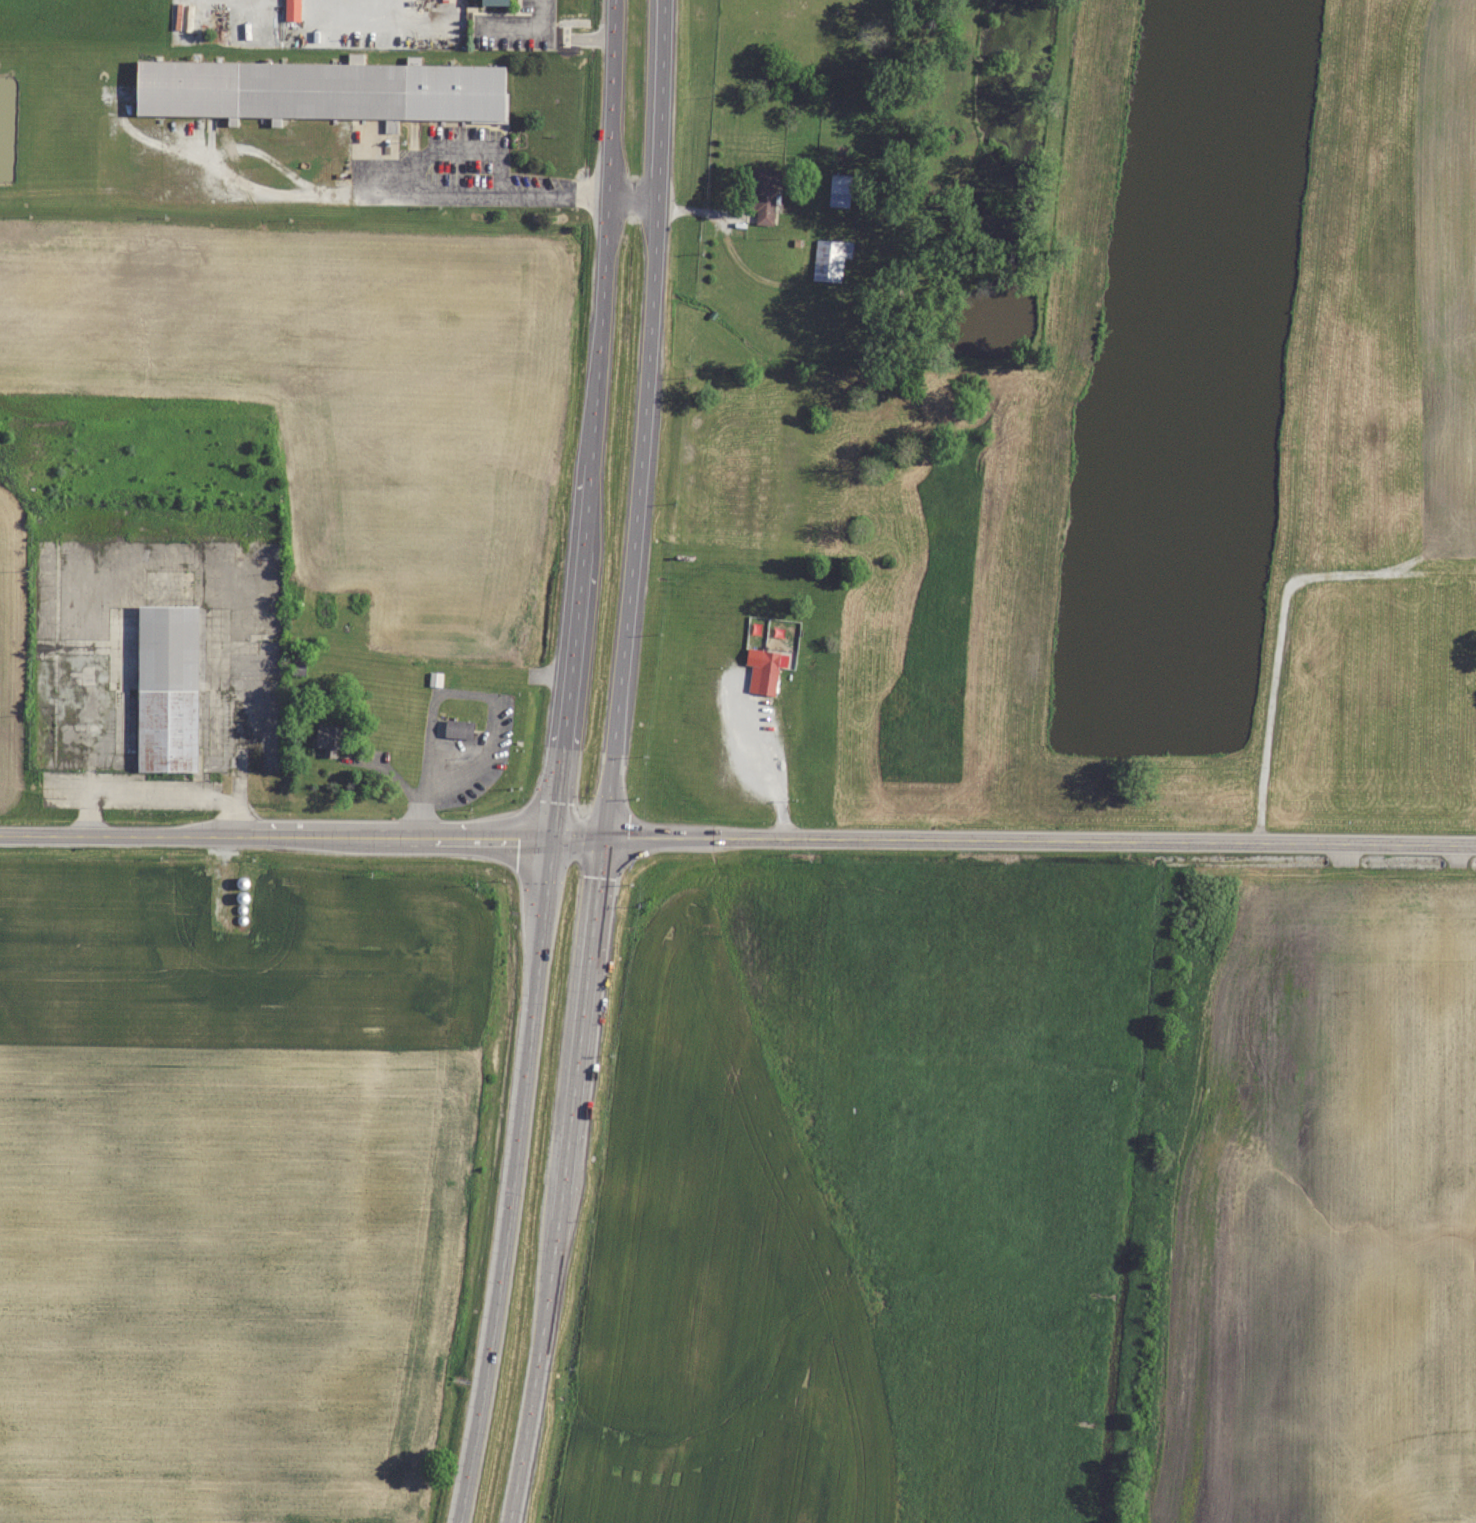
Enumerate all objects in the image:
building: (494, 2)
building: (292, 10)
building: (321, 90)
building: (839, 190)
building: (764, 194)
road: (552, 195)
building: (830, 259)
building: (767, 672)
building: (167, 688)
road: (459, 691)
building: (458, 728)
building: (330, 738)
road: (562, 763)
road: (614, 764)
road: (760, 765)
road: (303, 836)
traffic signals: (556, 839)
traffic signals: (606, 839)
road: (1041, 840)

